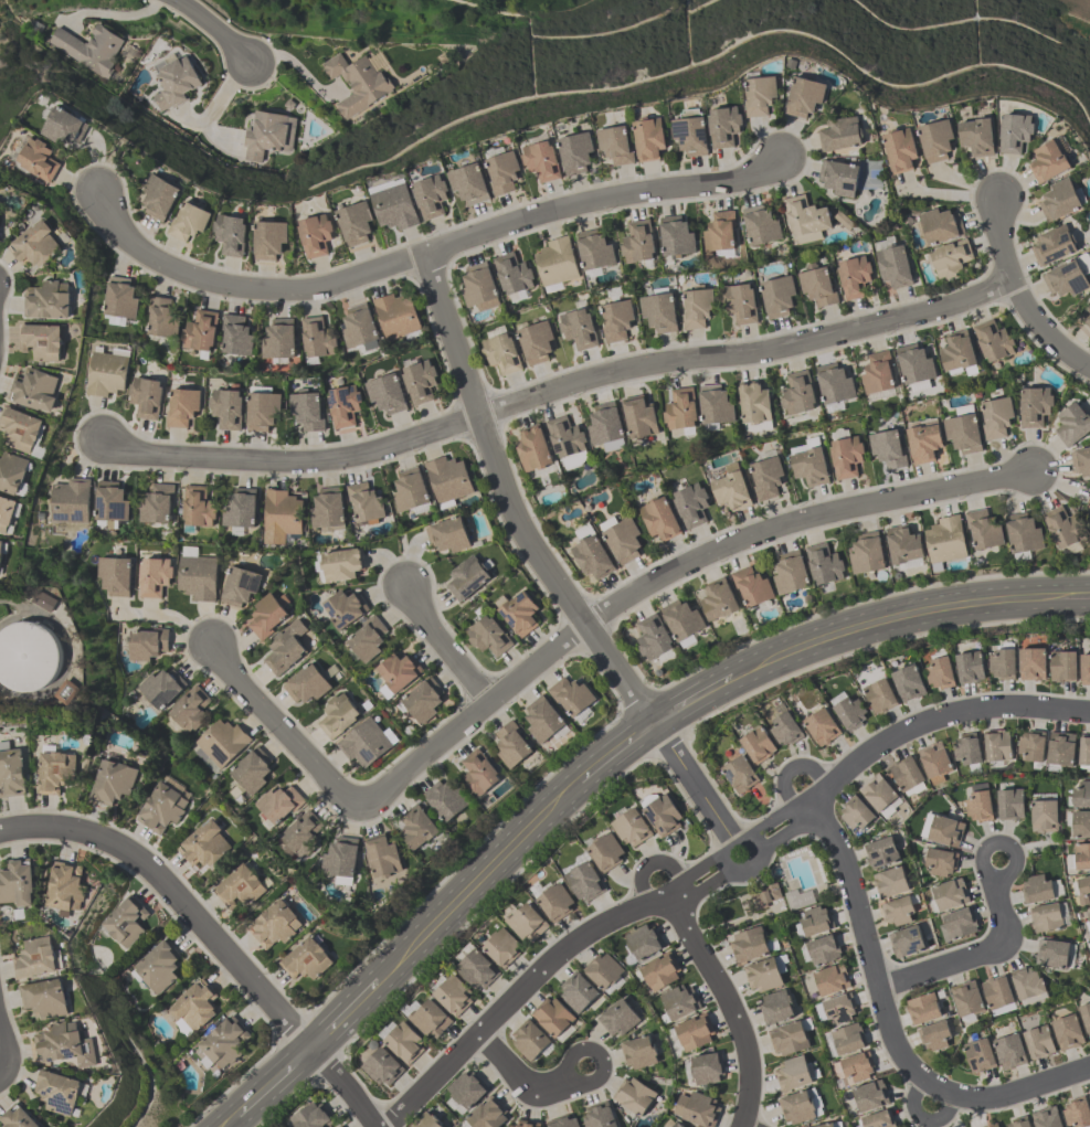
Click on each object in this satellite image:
road: (213, 28)
building: (91, 49)
road: (292, 62)
building: (176, 82)
building: (358, 84)
road: (225, 91)
building: (761, 94)
building: (805, 95)
building: (724, 125)
building: (66, 128)
building: (691, 131)
building: (1014, 131)
building: (839, 132)
building: (269, 135)
building: (977, 135)
building: (649, 136)
building: (935, 139)
building: (615, 143)
building: (899, 148)
building: (575, 151)
building: (36, 159)
building: (541, 159)
building: (1048, 160)
building: (502, 173)
building: (838, 177)
building: (469, 184)
building: (1059, 199)
building: (160, 200)
building: (409, 202)
building: (805, 219)
building: (843, 220)
building: (190, 224)
building: (356, 224)
building: (761, 224)
building: (940, 224)
building: (719, 231)
building: (676, 235)
building: (316, 237)
building: (252, 241)
building: (637, 241)
building: (1054, 244)
building: (38, 245)
building: (594, 249)
road: (427, 256)
building: (951, 257)
building: (555, 263)
building: (895, 265)
building: (1068, 275)
building: (854, 276)
building: (514, 277)
building: (817, 285)
building: (479, 289)
building: (777, 296)
road: (1020, 297)
building: (50, 301)
building: (120, 301)
building: (740, 301)
building: (697, 307)
building: (659, 311)
building: (1087, 316)
building: (396, 318)
building: (161, 319)
building: (616, 319)
building: (359, 327)
building: (579, 328)
building: (201, 333)
building: (236, 337)
building: (317, 339)
building: (993, 340)
building: (42, 342)
building: (537, 342)
building: (278, 344)
building: (957, 350)
building: (501, 352)
building: (914, 363)
building: (108, 371)
building: (878, 372)
building: (421, 383)
building: (834, 383)
building: (36, 391)
road: (558, 391)
building: (797, 392)
building: (387, 395)
building: (147, 398)
building: (754, 402)
building: (716, 403)
building: (1034, 405)
building: (345, 406)
building: (183, 407)
building: (680, 408)
building: (226, 411)
building: (307, 412)
building: (263, 414)
building: (639, 416)
building: (996, 416)
building: (1072, 424)
building: (606, 426)
building: (963, 429)
building: (22, 430)
building: (567, 438)
building: (923, 442)
building: (888, 448)
building: (535, 450)
building: (846, 456)
building: (1081, 460)
building: (811, 466)
building: (12, 475)
building: (765, 477)
building: (449, 480)
building: (732, 488)
building: (412, 493)
building: (1088, 501)
building: (70, 503)
building: (366, 504)
building: (691, 504)
building: (158, 506)
building: (112, 507)
building: (198, 508)
building: (1088, 511)
building: (240, 512)
building: (329, 512)
building: (7, 515)
building: (281, 518)
building: (660, 518)
building: (1060, 525)
building: (983, 529)
building: (1023, 534)
building: (449, 536)
building: (622, 538)
building: (945, 539)
building: (903, 543)
building: (591, 552)
building: (867, 553)
building: (2, 557)
building: (824, 563)
building: (339, 566)
road: (548, 570)
building: (791, 572)
road: (667, 575)
building: (116, 577)
building: (155, 577)
building: (470, 577)
building: (199, 578)
building: (241, 586)
building: (752, 586)
building: (719, 598)
building: (345, 610)
building: (519, 614)
road: (906, 614)
road: (163, 616)
building: (267, 618)
building: (682, 618)
building: (653, 636)
building: (489, 637)
building: (368, 641)
building: (145, 644)
road: (447, 646)
building: (287, 650)
building: (30, 653)
storage tank: (30, 653)
building: (1003, 663)
building: (1031, 663)
building: (1062, 666)
building: (970, 667)
building: (1086, 669)
building: (940, 672)
building: (399, 673)
building: (909, 682)
building: (160, 689)
building: (571, 694)
building: (879, 695)
road: (692, 700)
building: (423, 702)
building: (191, 711)
building: (849, 712)
building: (339, 716)
building: (543, 717)
building: (822, 725)
road: (283, 727)
building: (785, 729)
building: (368, 743)
building: (758, 744)
building: (221, 745)
building: (997, 745)
building: (1031, 745)
building: (514, 746)
building: (1061, 747)
building: (966, 748)
road: (615, 751)
building: (1084, 751)
building: (935, 761)
road: (789, 768)
building: (56, 772)
building: (253, 772)
building: (906, 773)
building: (12, 774)
building: (740, 774)
building: (481, 775)
building: (114, 783)
building: (877, 791)
building: (1081, 794)
building: (447, 800)
building: (978, 802)
building: (1009, 804)
building: (279, 805)
building: (163, 808)
building: (660, 812)
building: (856, 812)
building: (1044, 816)
building: (1080, 823)
building: (632, 826)
building: (422, 830)
building: (945, 830)
building: (303, 836)
building: (207, 846)
building: (605, 851)
building: (880, 852)
building: (1081, 855)
building: (384, 857)
building: (342, 860)
building: (941, 861)
road: (650, 862)
road: (713, 868)
road: (476, 880)
building: (585, 882)
building: (890, 882)
building: (18, 884)
building: (66, 889)
building: (240, 889)
building: (1036, 889)
building: (1083, 890)
building: (950, 893)
road: (179, 895)
building: (765, 895)
building: (555, 902)
building: (898, 910)
building: (1045, 917)
building: (816, 921)
building: (1088, 921)
building: (126, 923)
building: (526, 923)
building: (957, 924)
building: (276, 926)
building: (906, 940)
building: (644, 942)
building: (749, 945)
building: (502, 949)
building: (823, 949)
road: (866, 950)
building: (1052, 953)
road: (981, 955)
building: (38, 958)
building: (307, 960)
building: (159, 968)
building: (603, 970)
building: (659, 970)
building: (478, 972)
building: (763, 975)
building: (832, 978)
building: (1026, 982)
building: (578, 991)
building: (997, 993)
building: (454, 998)
building: (966, 998)
building: (45, 999)
building: (679, 1001)
road: (729, 1004)
building: (776, 1007)
building: (835, 1008)
building: (922, 1008)
building: (193, 1010)
road: (345, 1014)
building: (552, 1016)
building: (1086, 1016)
building: (617, 1018)
building: (428, 1019)
building: (694, 1032)
building: (1067, 1032)
building: (934, 1034)
building: (787, 1038)
building: (847, 1039)
building: (529, 1040)
building: (403, 1042)
building: (1038, 1042)
building: (222, 1044)
road: (1, 1045)
building: (64, 1045)
building: (1009, 1051)
building: (638, 1052)
building: (978, 1055)
road: (0, 1060)
building: (857, 1066)
building: (707, 1067)
building: (383, 1068)
building: (792, 1073)
road: (275, 1081)
road: (560, 1083)
road: (343, 1085)
road: (1014, 1091)
building: (59, 1094)
building: (466, 1094)
building: (870, 1095)
building: (633, 1096)
building: (796, 1107)
building: (697, 1109)
building: (1078, 1112)
building: (488, 1115)
building: (599, 1116)
building: (313, 1117)
road: (921, 1117)
building: (1047, 1117)
building: (17, 1118)
building: (878, 1119)
road: (230, 1120)
building: (427, 1121)
building: (1020, 1121)
building: (562, 1123)
park: (261, 1124)
building: (676, 1125)
road: (745, 1125)
building: (823, 1125)
building: (991, 1125)

